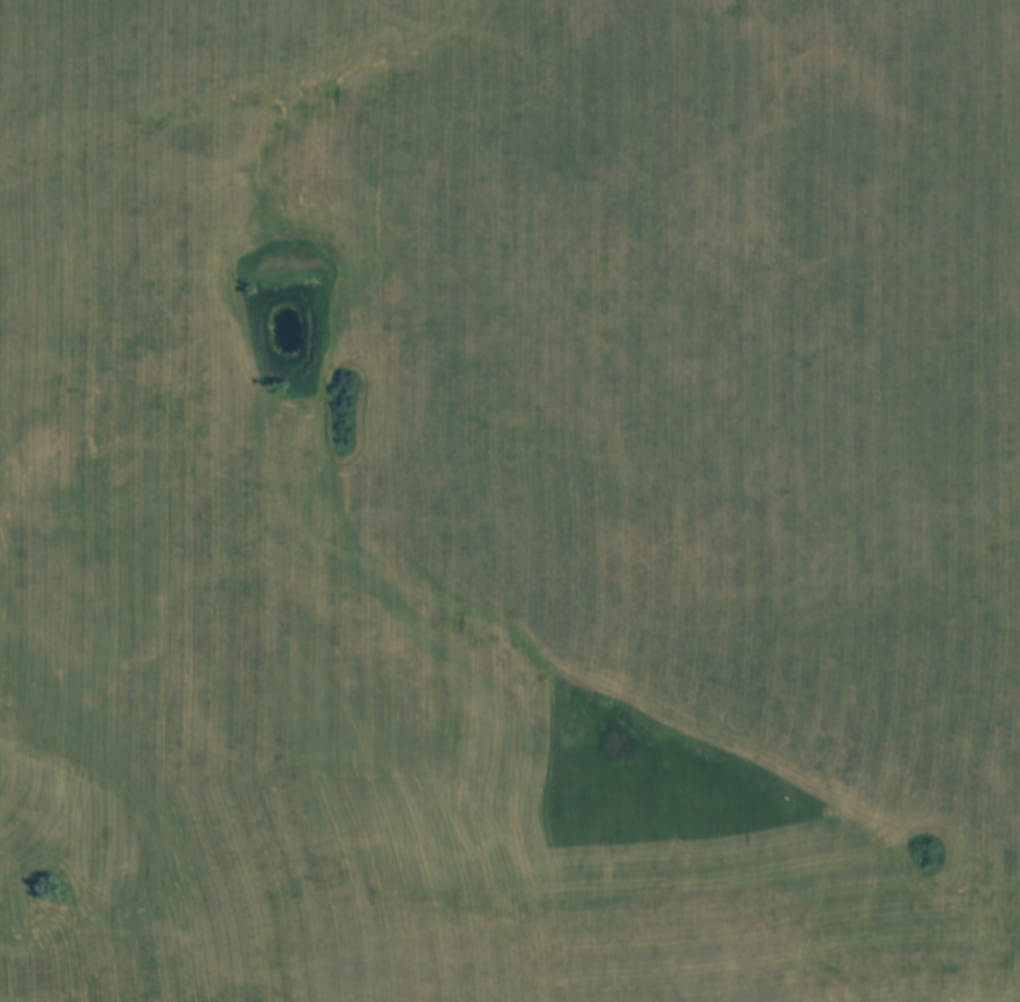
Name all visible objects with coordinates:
road: (115, 579)

